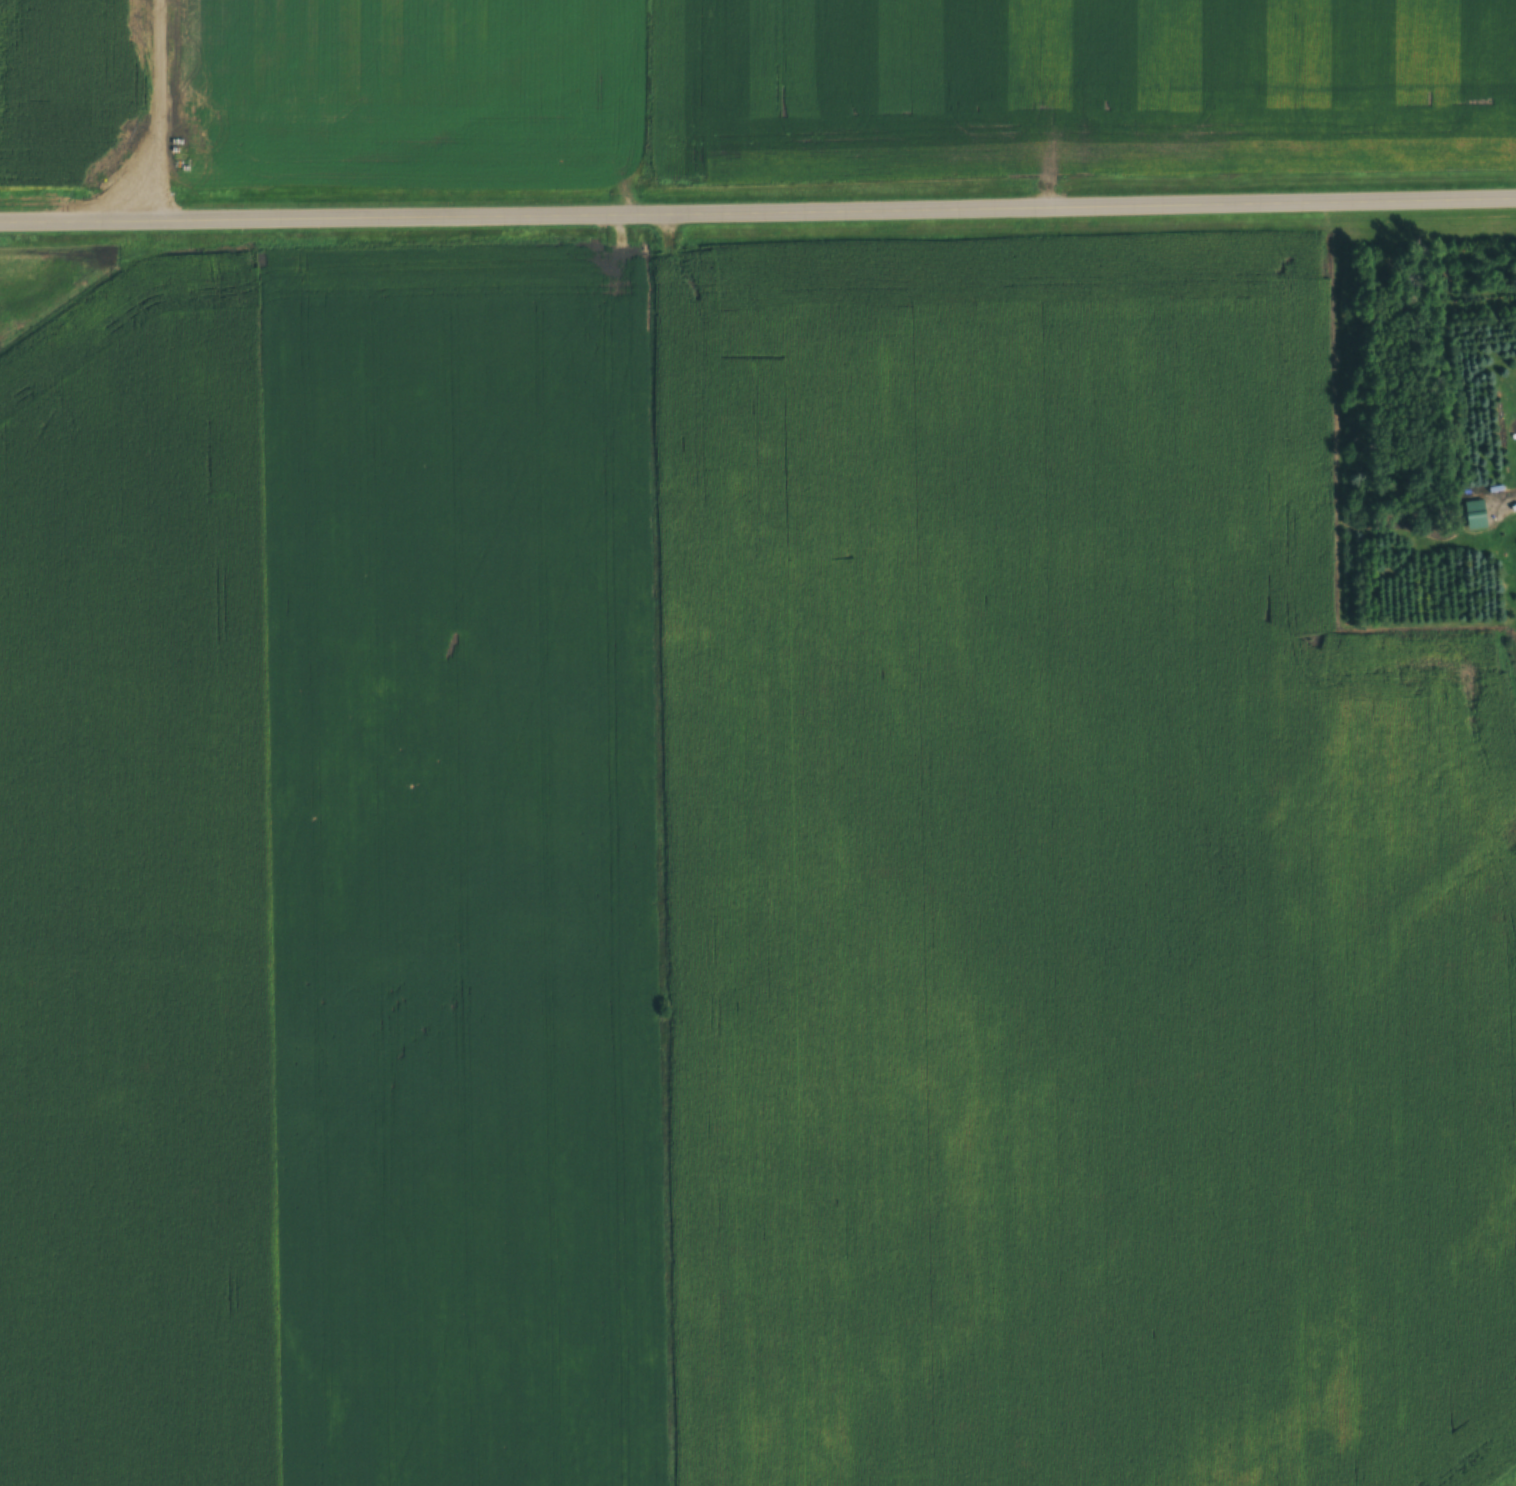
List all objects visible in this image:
road: (758, 205)
building: (1475, 516)

